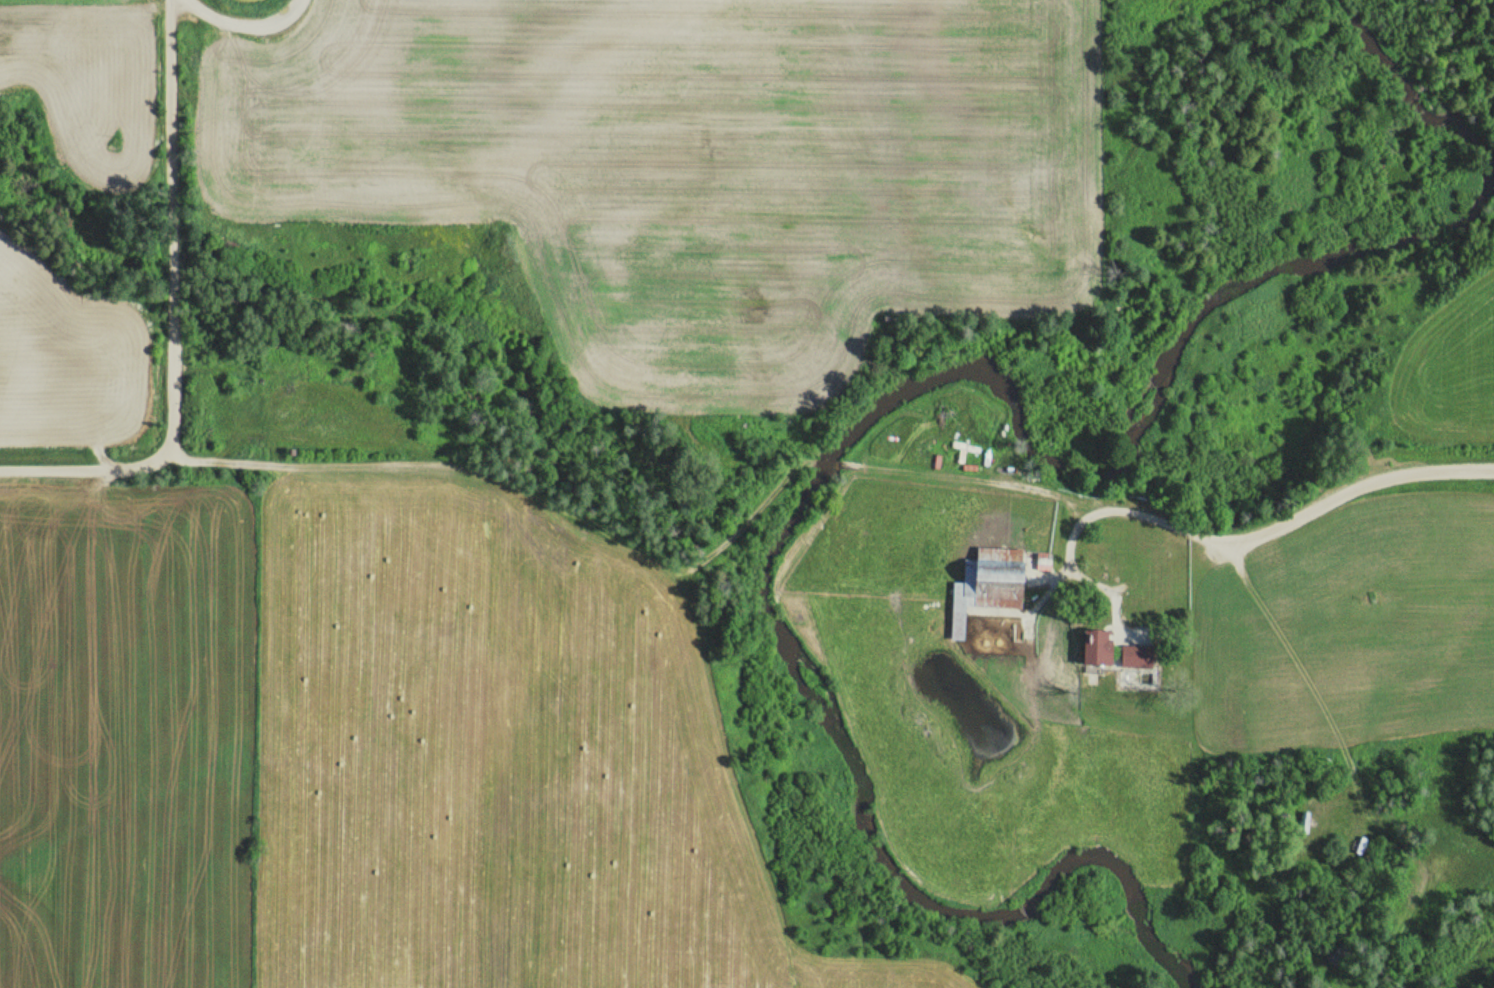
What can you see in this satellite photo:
road: (175, 226)
river: (929, 378)
road: (181, 456)
road: (87, 468)
road: (941, 473)
road: (1395, 475)
road: (528, 492)
road: (1064, 497)
road: (1094, 513)
road: (1170, 524)
road: (1267, 533)
road: (1072, 544)
road: (1051, 574)
building: (986, 584)
road: (1109, 586)
building: (1094, 647)
building: (1135, 655)
building: (1304, 822)
building: (1360, 845)

